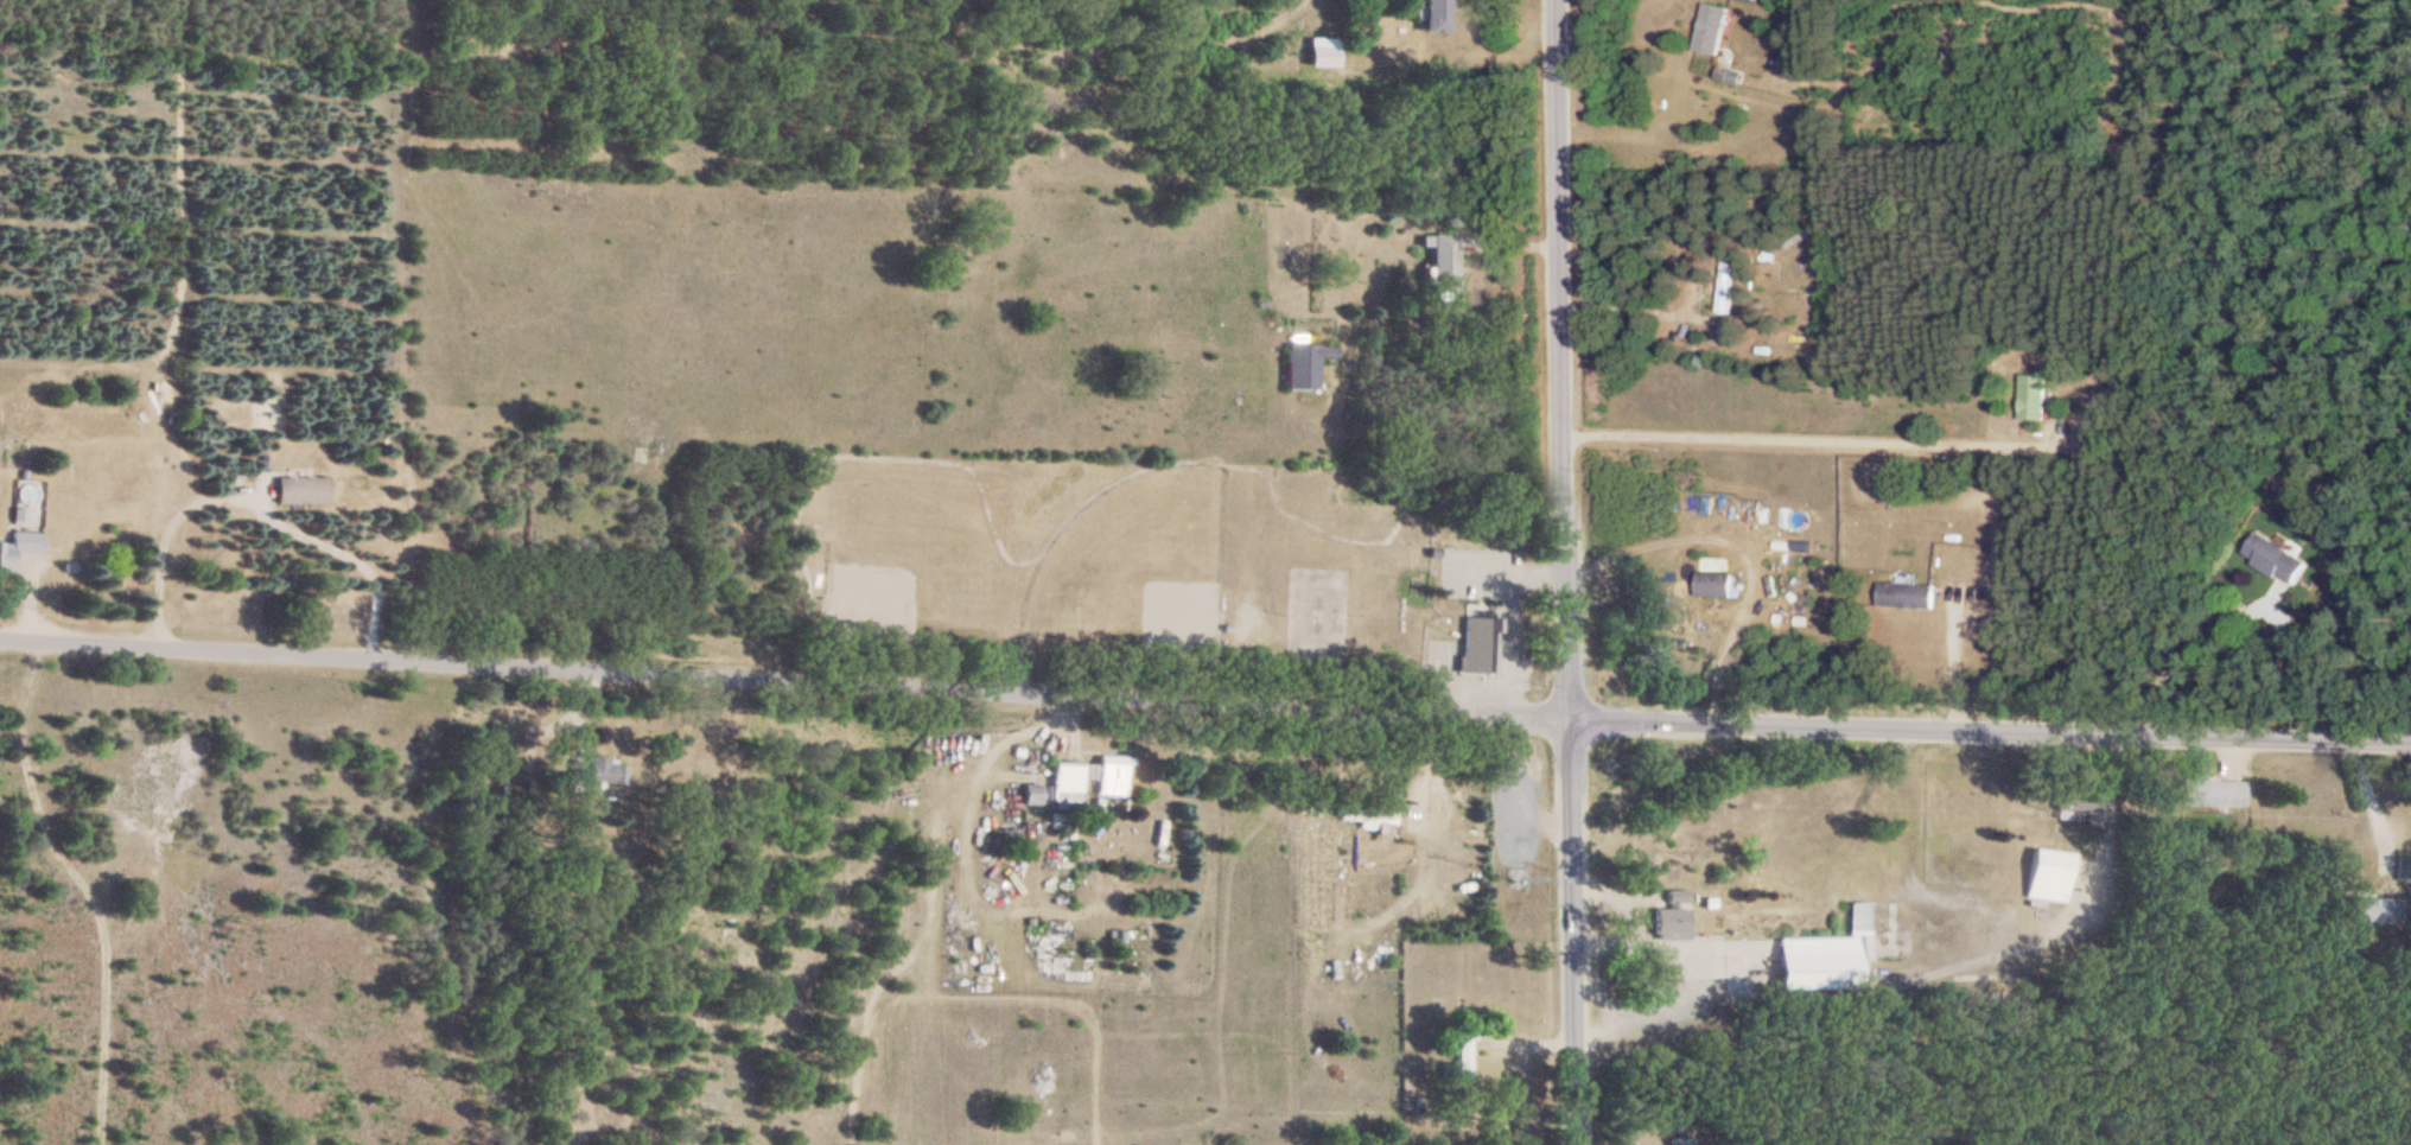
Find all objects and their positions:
building: (1751, 1)
building: (1433, 15)
building: (1715, 31)
building: (1321, 52)
building: (1440, 263)
building: (1729, 284)
building: (1302, 367)
building: (2035, 399)
road: (1783, 425)
building: (303, 489)
road: (254, 491)
road: (1739, 545)
building: (19, 547)
building: (2277, 560)
road: (1556, 572)
building: (1717, 586)
building: (1909, 598)
building: (1477, 647)
road: (1958, 660)
road: (2188, 664)
road: (1204, 694)
building: (606, 770)
building: (1092, 778)
building: (2208, 794)
road: (2366, 796)
building: (2076, 808)
building: (1364, 818)
building: (2403, 871)
building: (2043, 874)
building: (1674, 898)
building: (2373, 911)
building: (1668, 921)
building: (1876, 921)
road: (1688, 965)
building: (1792, 965)
building: (1462, 1052)
building: (1677, 1141)

